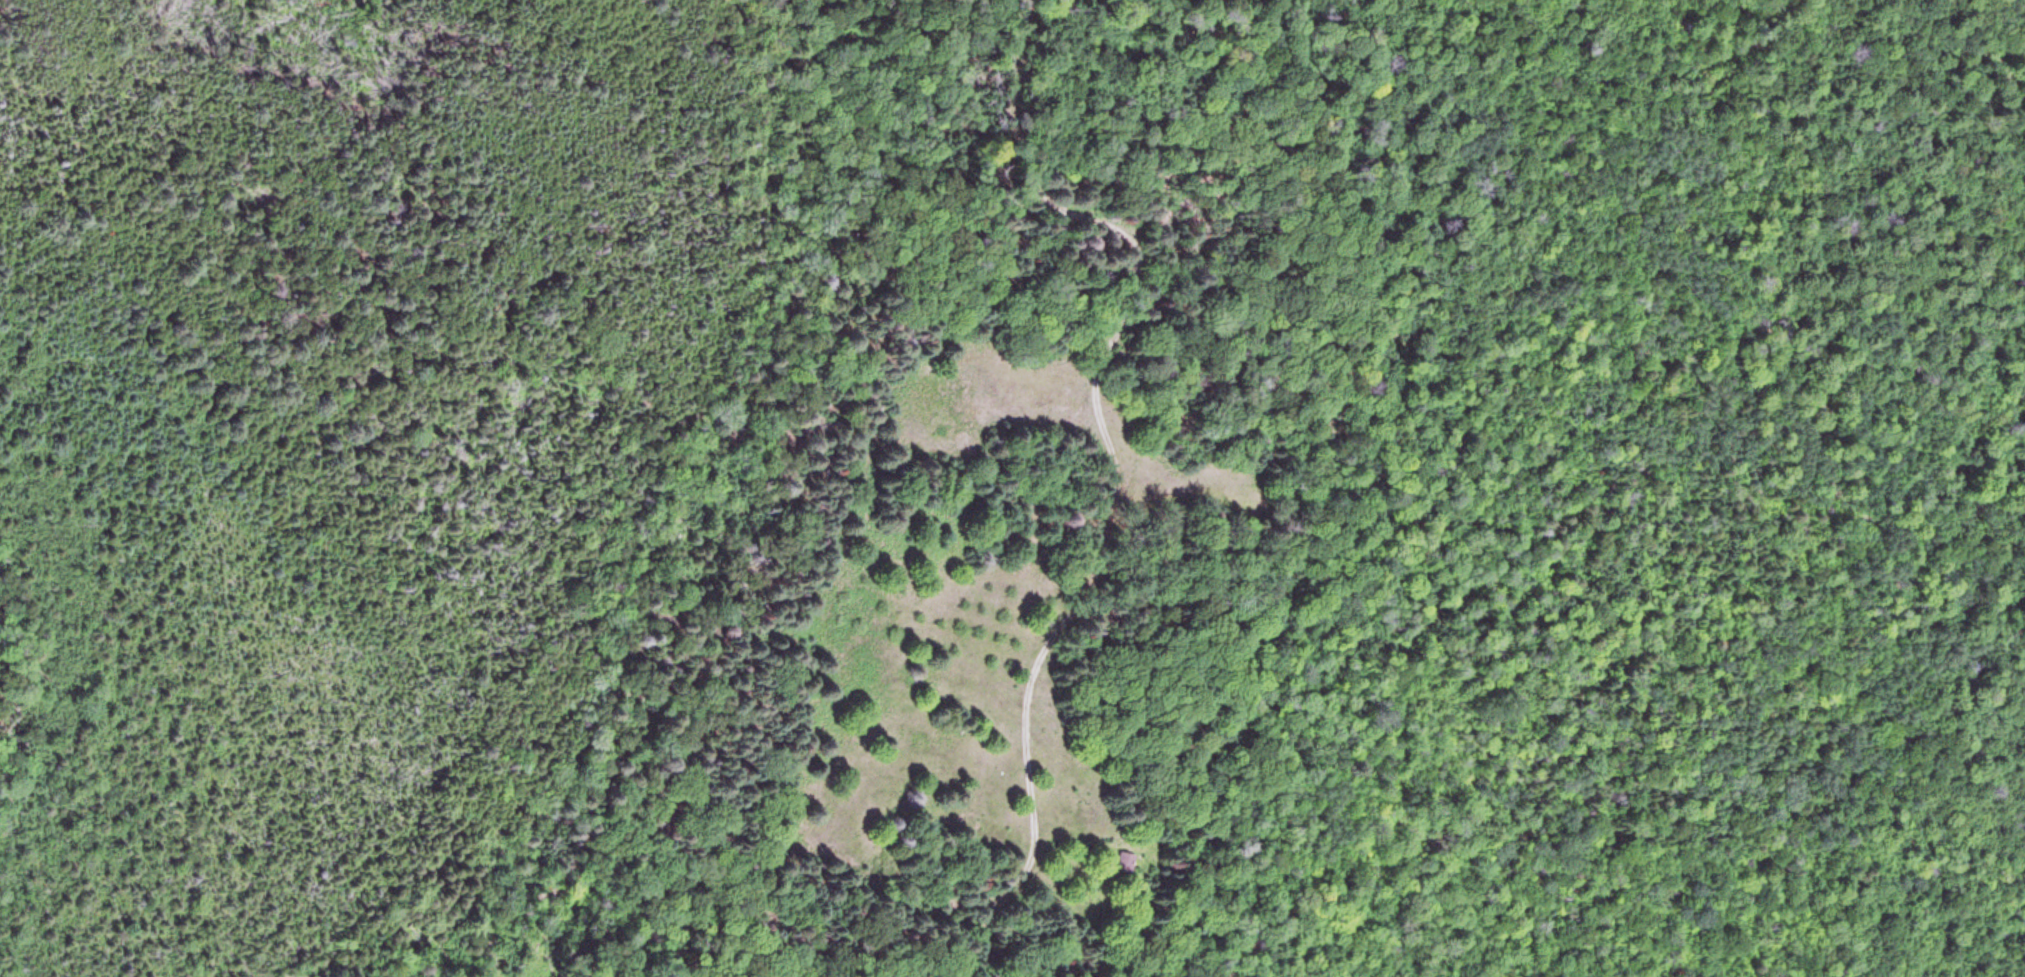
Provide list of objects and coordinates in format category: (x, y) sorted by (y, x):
road: (2018, 23)
road: (1112, 468)
building: (1123, 862)

